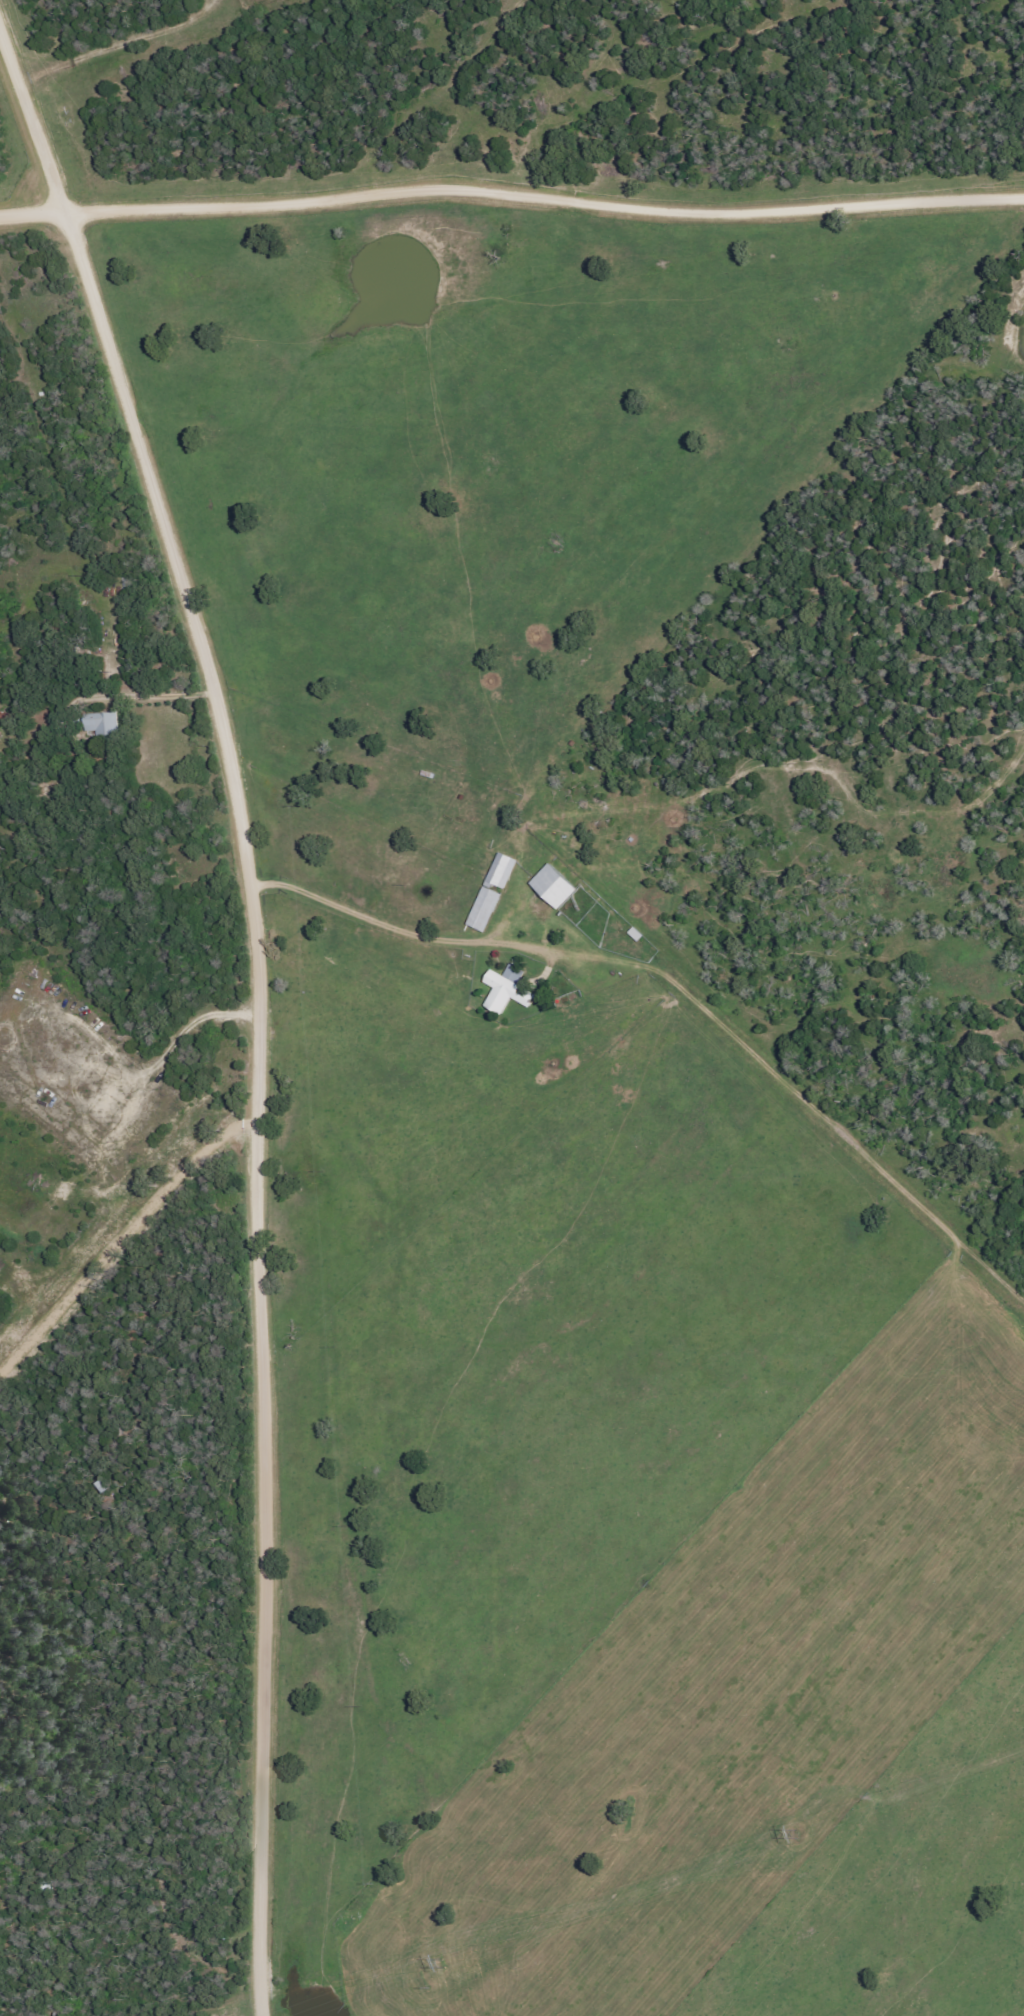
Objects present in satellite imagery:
road: (103, 106)
road: (511, 191)
building: (102, 726)
building: (554, 887)
building: (493, 891)
road: (686, 987)
building: (508, 990)
road: (260, 1004)
power tower: (785, 1835)
power tower: (425, 1966)

